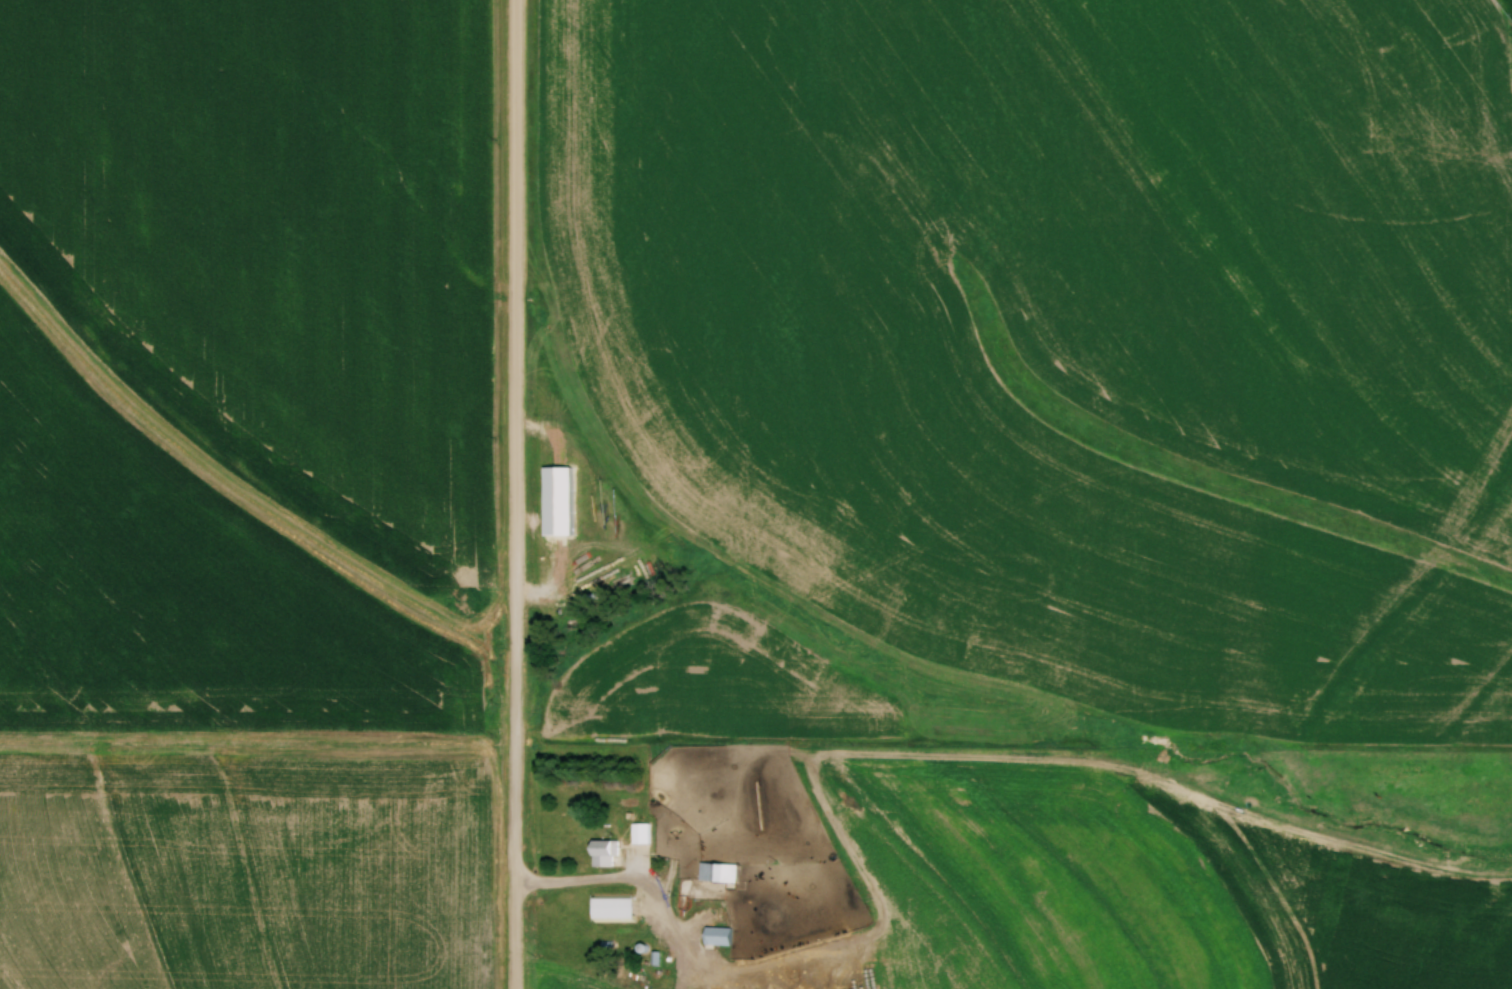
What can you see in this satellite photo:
road: (515, 494)
building: (556, 501)
building: (640, 832)
building: (603, 852)
building: (716, 872)
building: (611, 906)
building: (716, 936)

